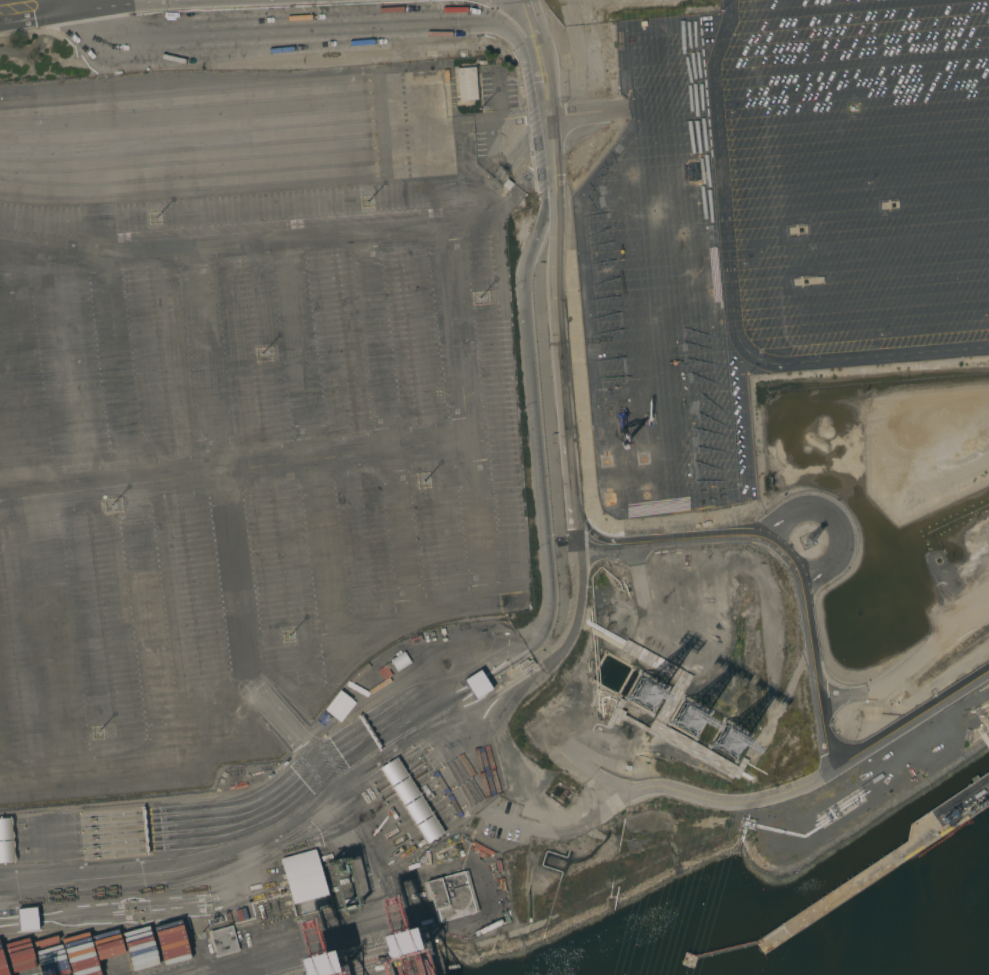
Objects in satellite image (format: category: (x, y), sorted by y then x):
road: (66, 1)
road: (49, 4)
road: (287, 37)
building: (466, 83)
railway: (185, 94)
railway: (186, 107)
road: (498, 114)
railway: (187, 122)
road: (429, 128)
railway: (187, 134)
road: (492, 137)
railway: (188, 150)
railway: (188, 163)
railway: (188, 178)
road: (465, 187)
railway: (189, 190)
road: (503, 200)
road: (433, 209)
road: (224, 245)
road: (555, 260)
road: (764, 285)
road: (535, 416)
road: (338, 449)
power tower: (625, 478)
road: (394, 625)
road: (809, 642)
building: (400, 661)
road: (885, 682)
building: (477, 684)
road: (157, 695)
power tower: (688, 718)
power tower: (729, 742)
road: (665, 790)
building: (410, 800)
building: (5, 841)
building: (305, 882)
building: (451, 896)
building: (27, 919)
building: (223, 941)
building: (397, 943)
pier: (395, 964)

